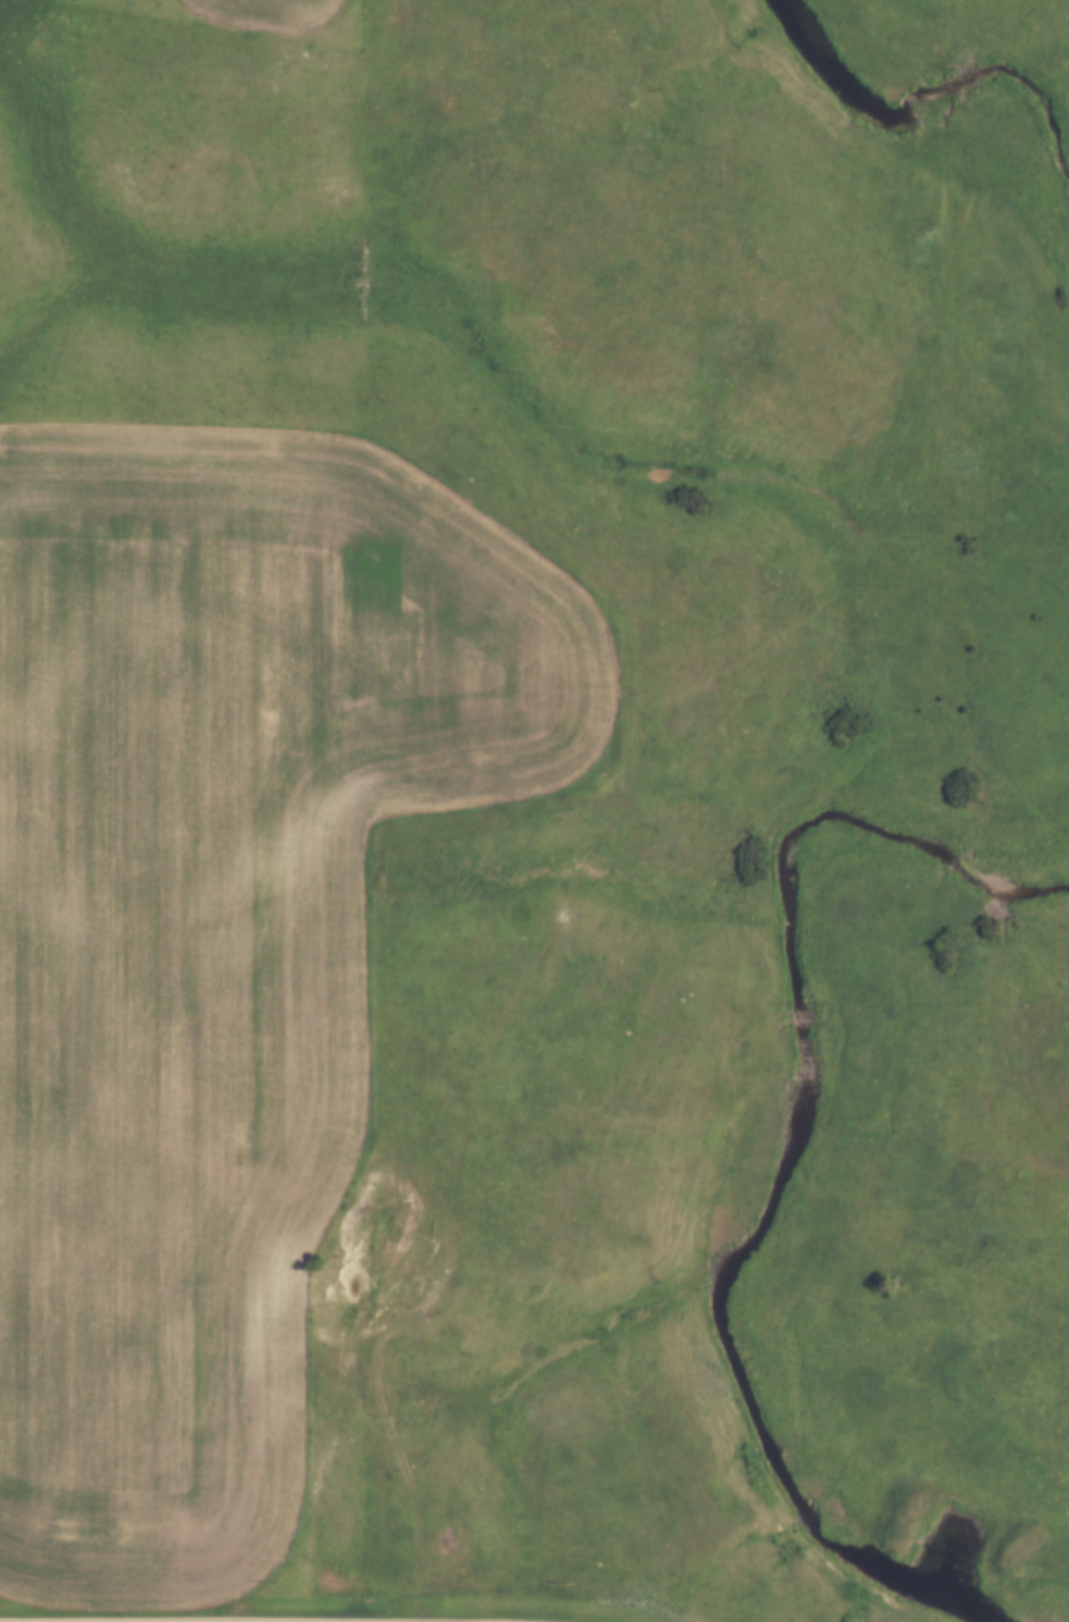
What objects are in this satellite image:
road: (409, 1621)

